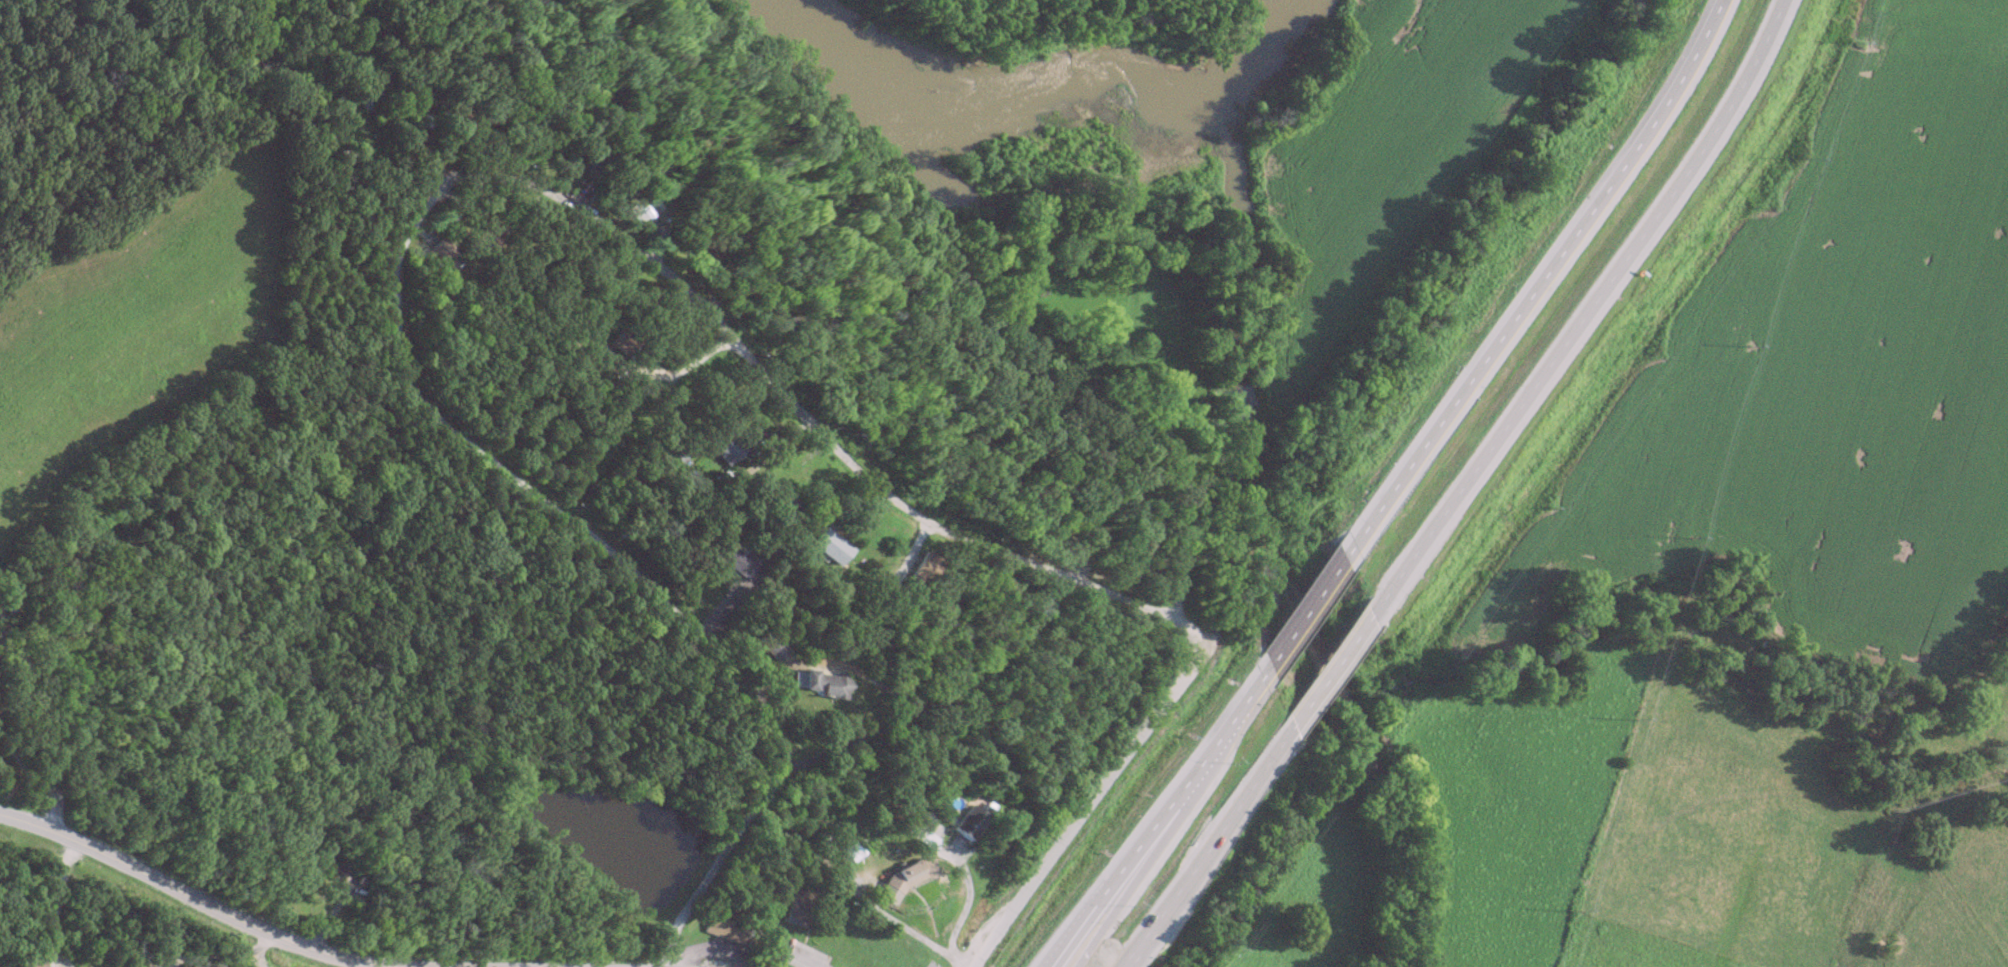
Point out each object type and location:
river: (1044, 84)
building: (425, 122)
building: (593, 169)
building: (633, 216)
building: (440, 248)
building: (703, 251)
road: (1533, 283)
road: (1579, 314)
building: (622, 340)
crop: (1831, 377)
road: (820, 433)
building: (729, 449)
road: (519, 480)
building: (777, 499)
building: (1049, 539)
building: (828, 546)
building: (729, 558)
building: (922, 568)
building: (7, 599)
road: (1301, 612)
building: (775, 649)
road: (1326, 671)
building: (819, 683)
road: (35, 777)
road: (753, 806)
road: (1082, 812)
road: (1155, 816)
building: (967, 823)
road: (1201, 846)
building: (332, 859)
road: (1126, 874)
road: (968, 895)
road: (198, 901)
road: (56, 903)
building: (797, 906)
road: (913, 928)
building: (719, 929)
road: (215, 954)
building: (28, 962)
road: (368, 965)

